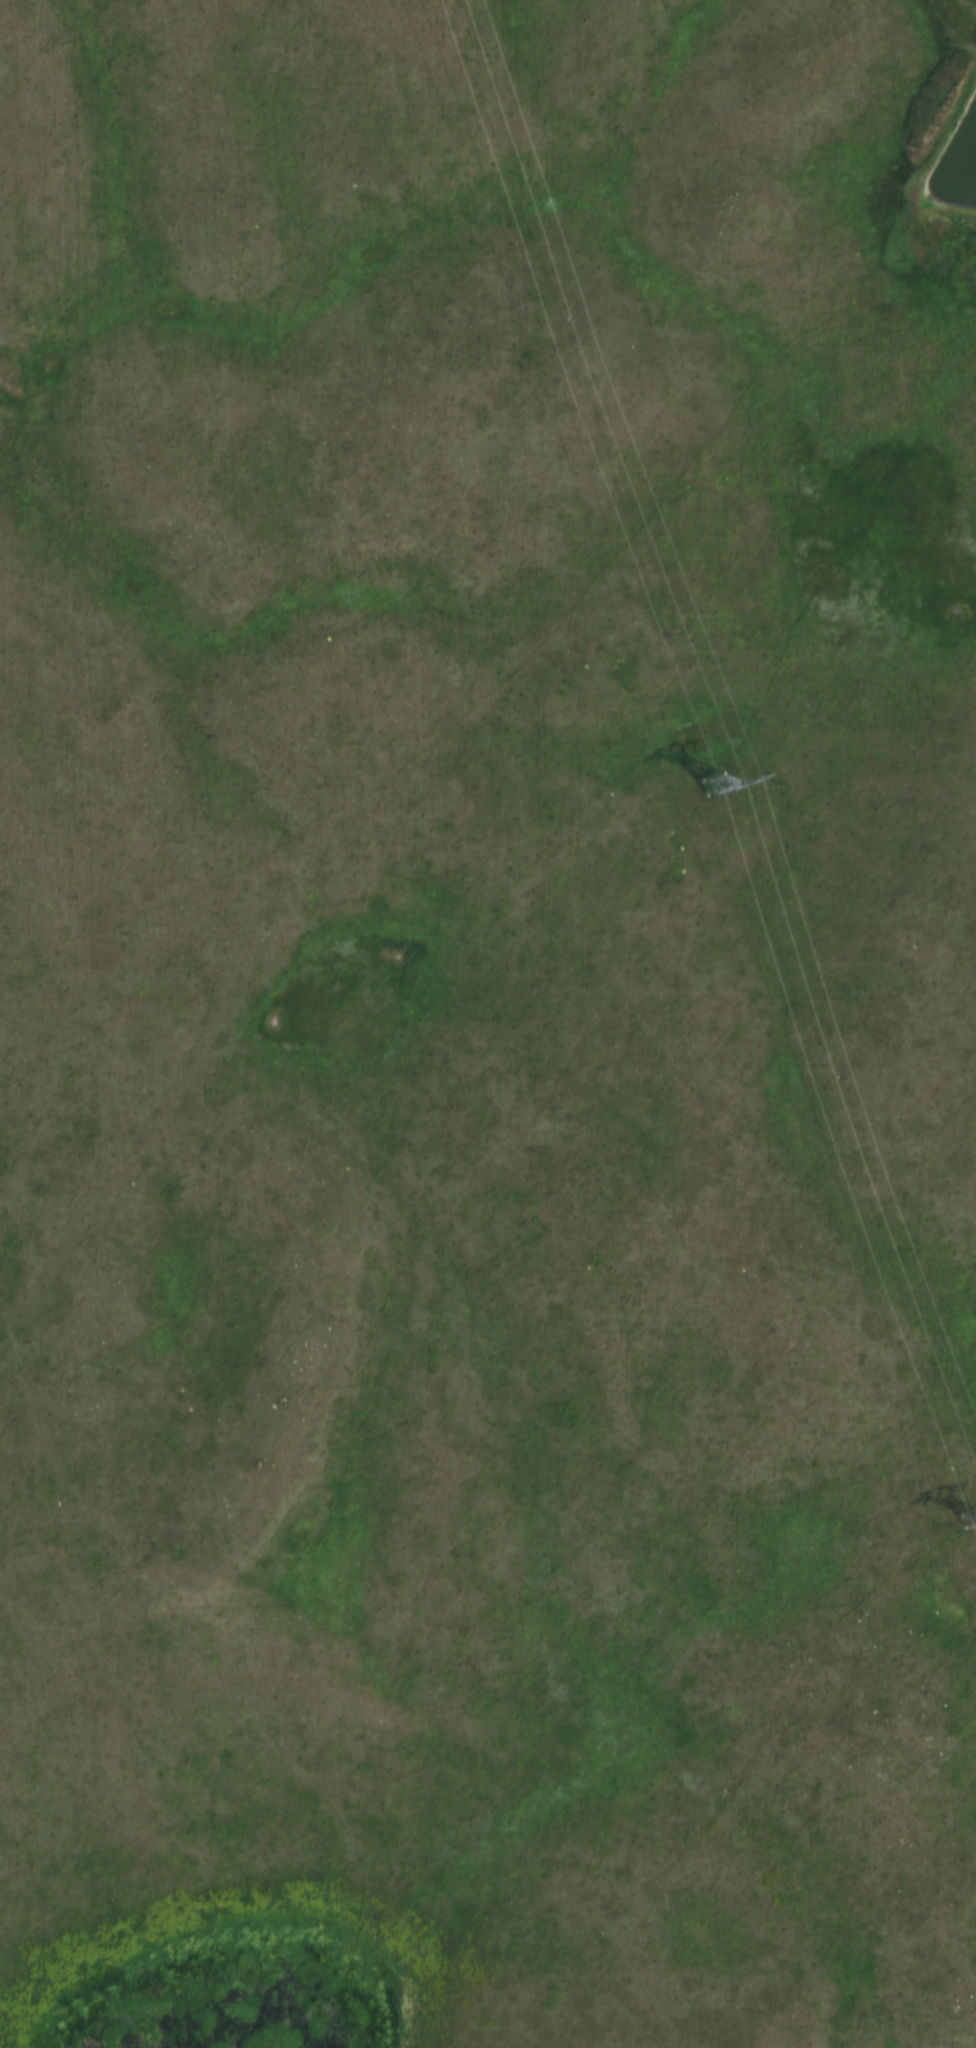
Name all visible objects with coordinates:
power tower: (717, 784)
power tower: (972, 1520)

